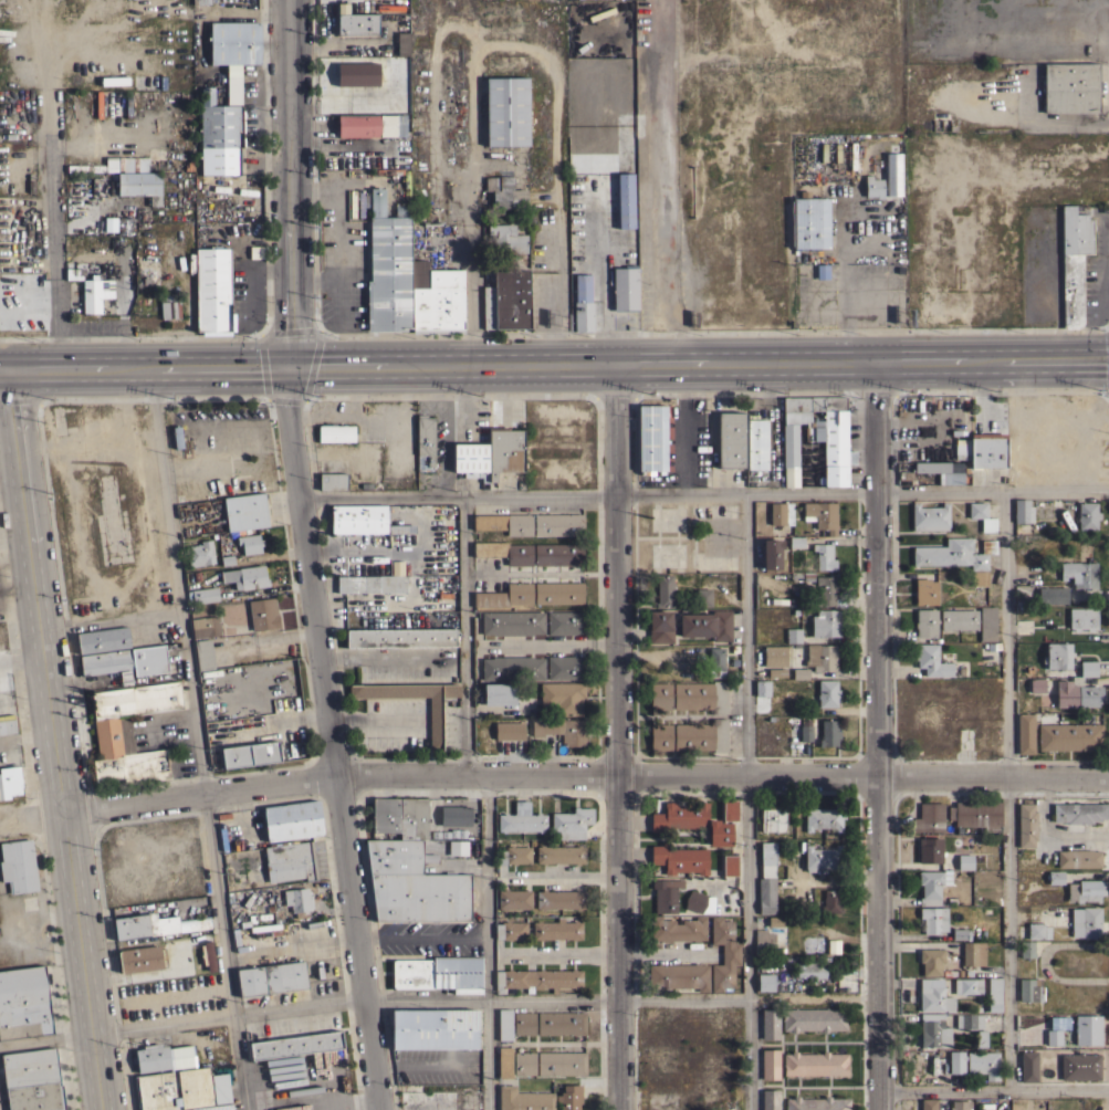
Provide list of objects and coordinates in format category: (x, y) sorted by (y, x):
building: (202, 1)
building: (357, 23)
building: (234, 42)
building: (399, 42)
building: (359, 76)
building: (233, 84)
building: (1070, 87)
building: (98, 103)
building: (128, 104)
building: (506, 111)
building: (219, 122)
building: (370, 125)
building: (219, 160)
building: (126, 164)
building: (84, 168)
building: (892, 175)
road: (669, 181)
building: (139, 185)
building: (872, 187)
building: (505, 192)
road: (57, 200)
building: (625, 200)
building: (417, 217)
road: (470, 219)
building: (810, 223)
building: (124, 226)
building: (505, 239)
building: (1074, 262)
building: (73, 273)
building: (407, 280)
road: (846, 283)
building: (582, 286)
building: (625, 287)
building: (213, 291)
building: (93, 293)
building: (506, 301)
building: (168, 306)
building: (583, 316)
road: (554, 364)
road: (934, 429)
building: (335, 432)
building: (818, 433)
building: (651, 437)
building: (731, 439)
building: (425, 442)
building: (756, 443)
building: (504, 451)
building: (987, 452)
building: (470, 457)
building: (952, 475)
building: (333, 480)
road: (702, 490)
building: (244, 511)
building: (1022, 511)
building: (781, 513)
building: (822, 515)
building: (982, 515)
building: (1087, 515)
building: (930, 516)
building: (363, 520)
building: (504, 523)
building: (557, 524)
building: (795, 541)
building: (250, 543)
building: (504, 552)
building: (200, 553)
building: (772, 553)
building: (558, 554)
road: (304, 556)
building: (824, 556)
building: (958, 556)
building: (1080, 573)
building: (245, 576)
building: (376, 584)
building: (663, 590)
building: (827, 591)
building: (925, 591)
building: (558, 593)
building: (202, 595)
building: (1052, 595)
building: (504, 596)
building: (702, 597)
building: (262, 614)
building: (1082, 618)
building: (959, 619)
building: (512, 622)
building: (565, 622)
building: (825, 622)
building: (925, 622)
building: (987, 624)
building: (707, 625)
building: (205, 626)
building: (660, 626)
road: (464, 635)
building: (793, 635)
building: (401, 637)
building: (102, 639)
road: (21, 653)
building: (203, 653)
building: (774, 656)
building: (1057, 656)
building: (125, 660)
building: (931, 660)
building: (716, 661)
building: (818, 661)
building: (565, 667)
building: (512, 668)
building: (1088, 668)
building: (776, 672)
building: (125, 678)
building: (1036, 684)
building: (762, 688)
building: (827, 692)
building: (499, 693)
building: (1077, 693)
building: (660, 695)
building: (701, 695)
building: (563, 697)
building: (4, 723)
building: (435, 723)
building: (559, 729)
building: (805, 730)
building: (129, 731)
building: (509, 731)
building: (828, 733)
building: (1025, 734)
building: (701, 735)
road: (617, 736)
building: (660, 736)
road: (876, 736)
building: (1069, 736)
road: (28, 740)
road: (198, 740)
road: (56, 742)
building: (250, 753)
road: (552, 776)
building: (9, 782)
road: (1008, 787)
road: (747, 799)
building: (730, 809)
building: (1079, 813)
building: (976, 814)
building: (454, 816)
building: (680, 816)
building: (400, 817)
building: (823, 817)
building: (929, 817)
building: (522, 818)
building: (772, 818)
building: (292, 820)
building: (572, 823)
building: (1026, 825)
building: (720, 832)
road: (1047, 836)
building: (559, 854)
building: (513, 855)
building: (823, 857)
building: (1079, 858)
building: (680, 859)
building: (291, 861)
building: (965, 861)
building: (18, 865)
building: (730, 865)
road: (562, 876)
building: (1056, 877)
building: (766, 878)
building: (934, 878)
building: (412, 884)
building: (1085, 890)
building: (666, 893)
building: (513, 899)
building: (561, 899)
building: (299, 900)
building: (712, 901)
building: (831, 901)
building: (933, 919)
building: (772, 921)
building: (1091, 922)
building: (155, 924)
building: (557, 929)
building: (677, 929)
building: (511, 930)
building: (1037, 931)
building: (960, 934)
road: (421, 938)
building: (763, 940)
road: (488, 943)
building: (833, 945)
building: (1027, 949)
building: (723, 953)
building: (973, 953)
road: (608, 954)
building: (142, 957)
building: (931, 961)
building: (809, 968)
building: (438, 973)
building: (678, 976)
building: (271, 977)
building: (537, 978)
building: (765, 982)
building: (967, 985)
building: (1030, 989)
building: (994, 993)
road: (482, 996)
building: (934, 996)
building: (24, 1003)
building: (813, 1018)
building: (972, 1019)
building: (524, 1023)
building: (561, 1023)
building: (770, 1023)
building: (505, 1024)
building: (435, 1029)
building: (933, 1029)
building: (1088, 1029)
building: (1054, 1036)
building: (981, 1037)
building: (295, 1045)
building: (163, 1057)
building: (505, 1061)
building: (524, 1062)
building: (562, 1062)
building: (975, 1062)
building: (770, 1064)
building: (815, 1064)
building: (1028, 1066)
building: (1080, 1066)
building: (32, 1080)
building: (181, 1089)
road: (993, 1089)
building: (571, 1097)
building: (429, 1098)
building: (523, 1099)
building: (770, 1099)
building: (816, 1103)
building: (929, 1103)
building: (960, 1104)

